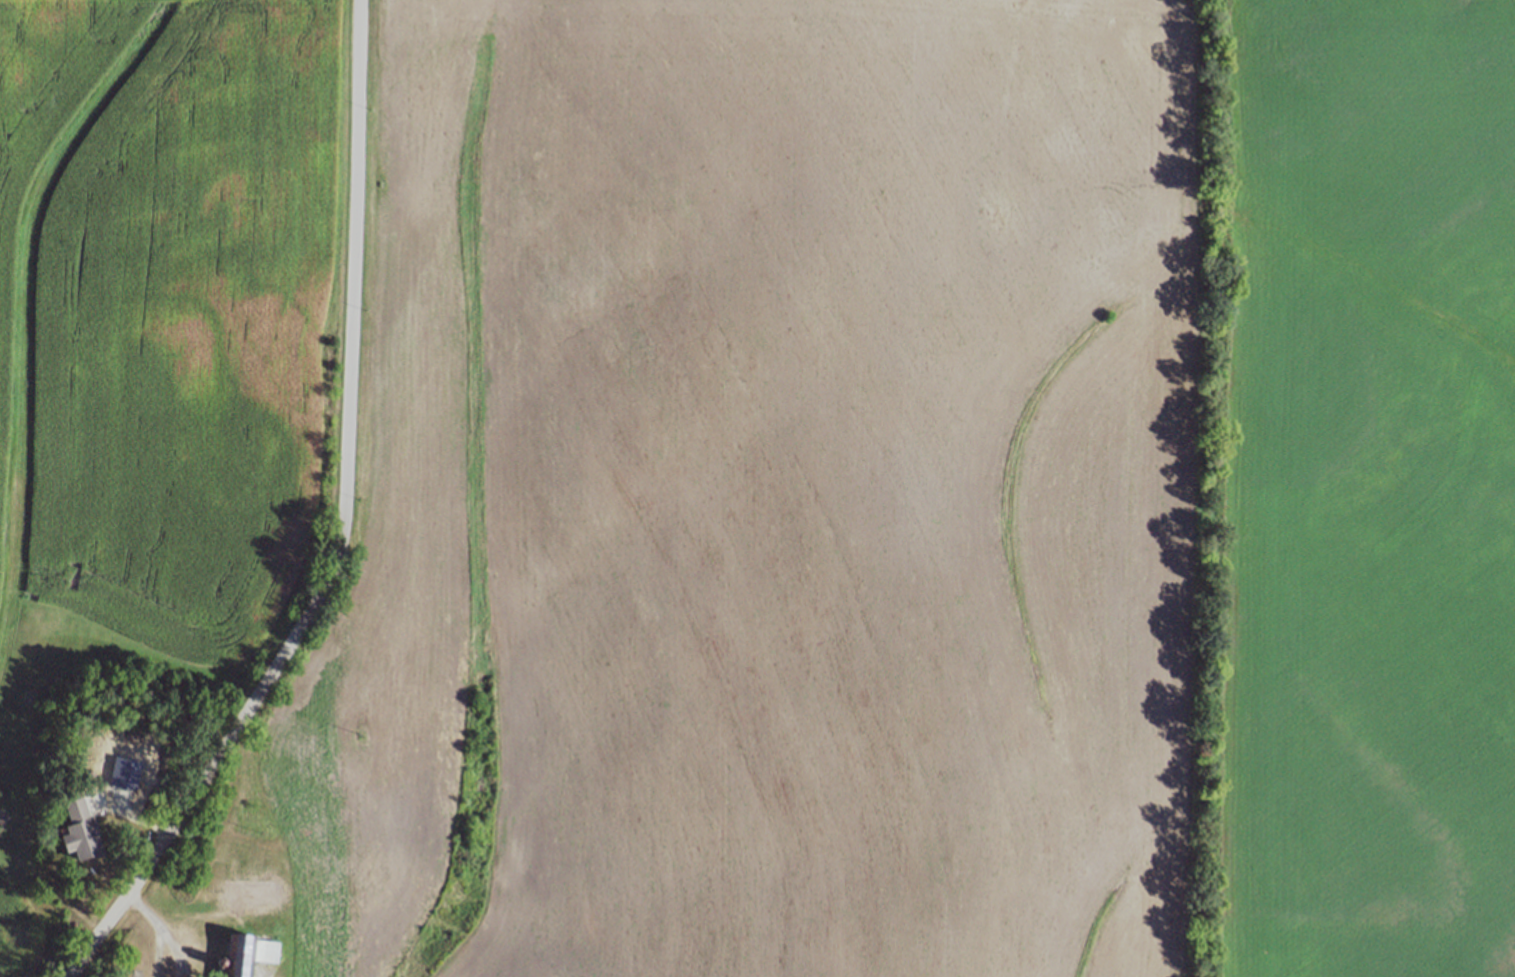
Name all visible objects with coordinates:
road: (341, 527)
building: (79, 830)
building: (253, 890)
road: (160, 931)
building: (248, 954)

